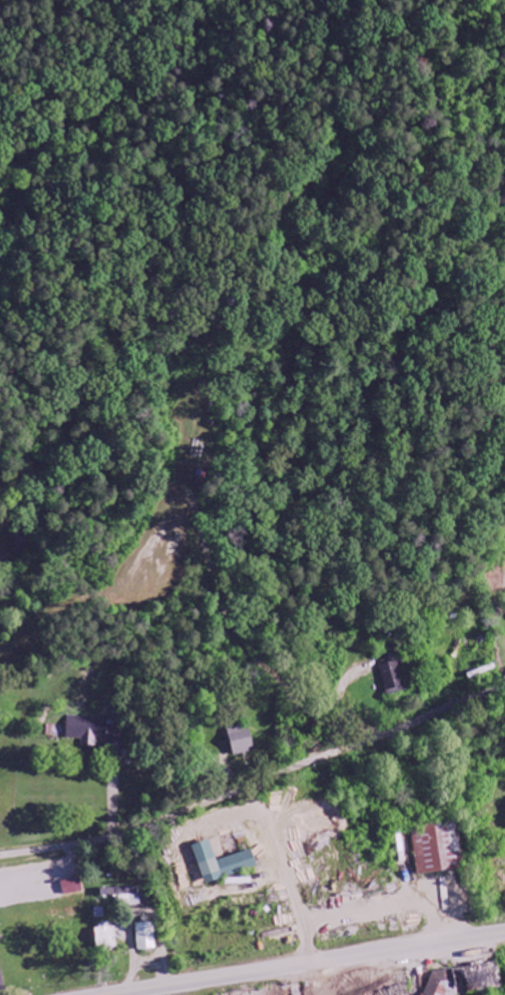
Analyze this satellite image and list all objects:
road: (46, 622)
building: (392, 678)
building: (93, 731)
building: (241, 741)
road: (256, 786)
building: (438, 848)
building: (222, 862)
building: (124, 895)
road: (295, 897)
building: (106, 935)
building: (146, 936)
road: (306, 964)
building: (441, 983)

